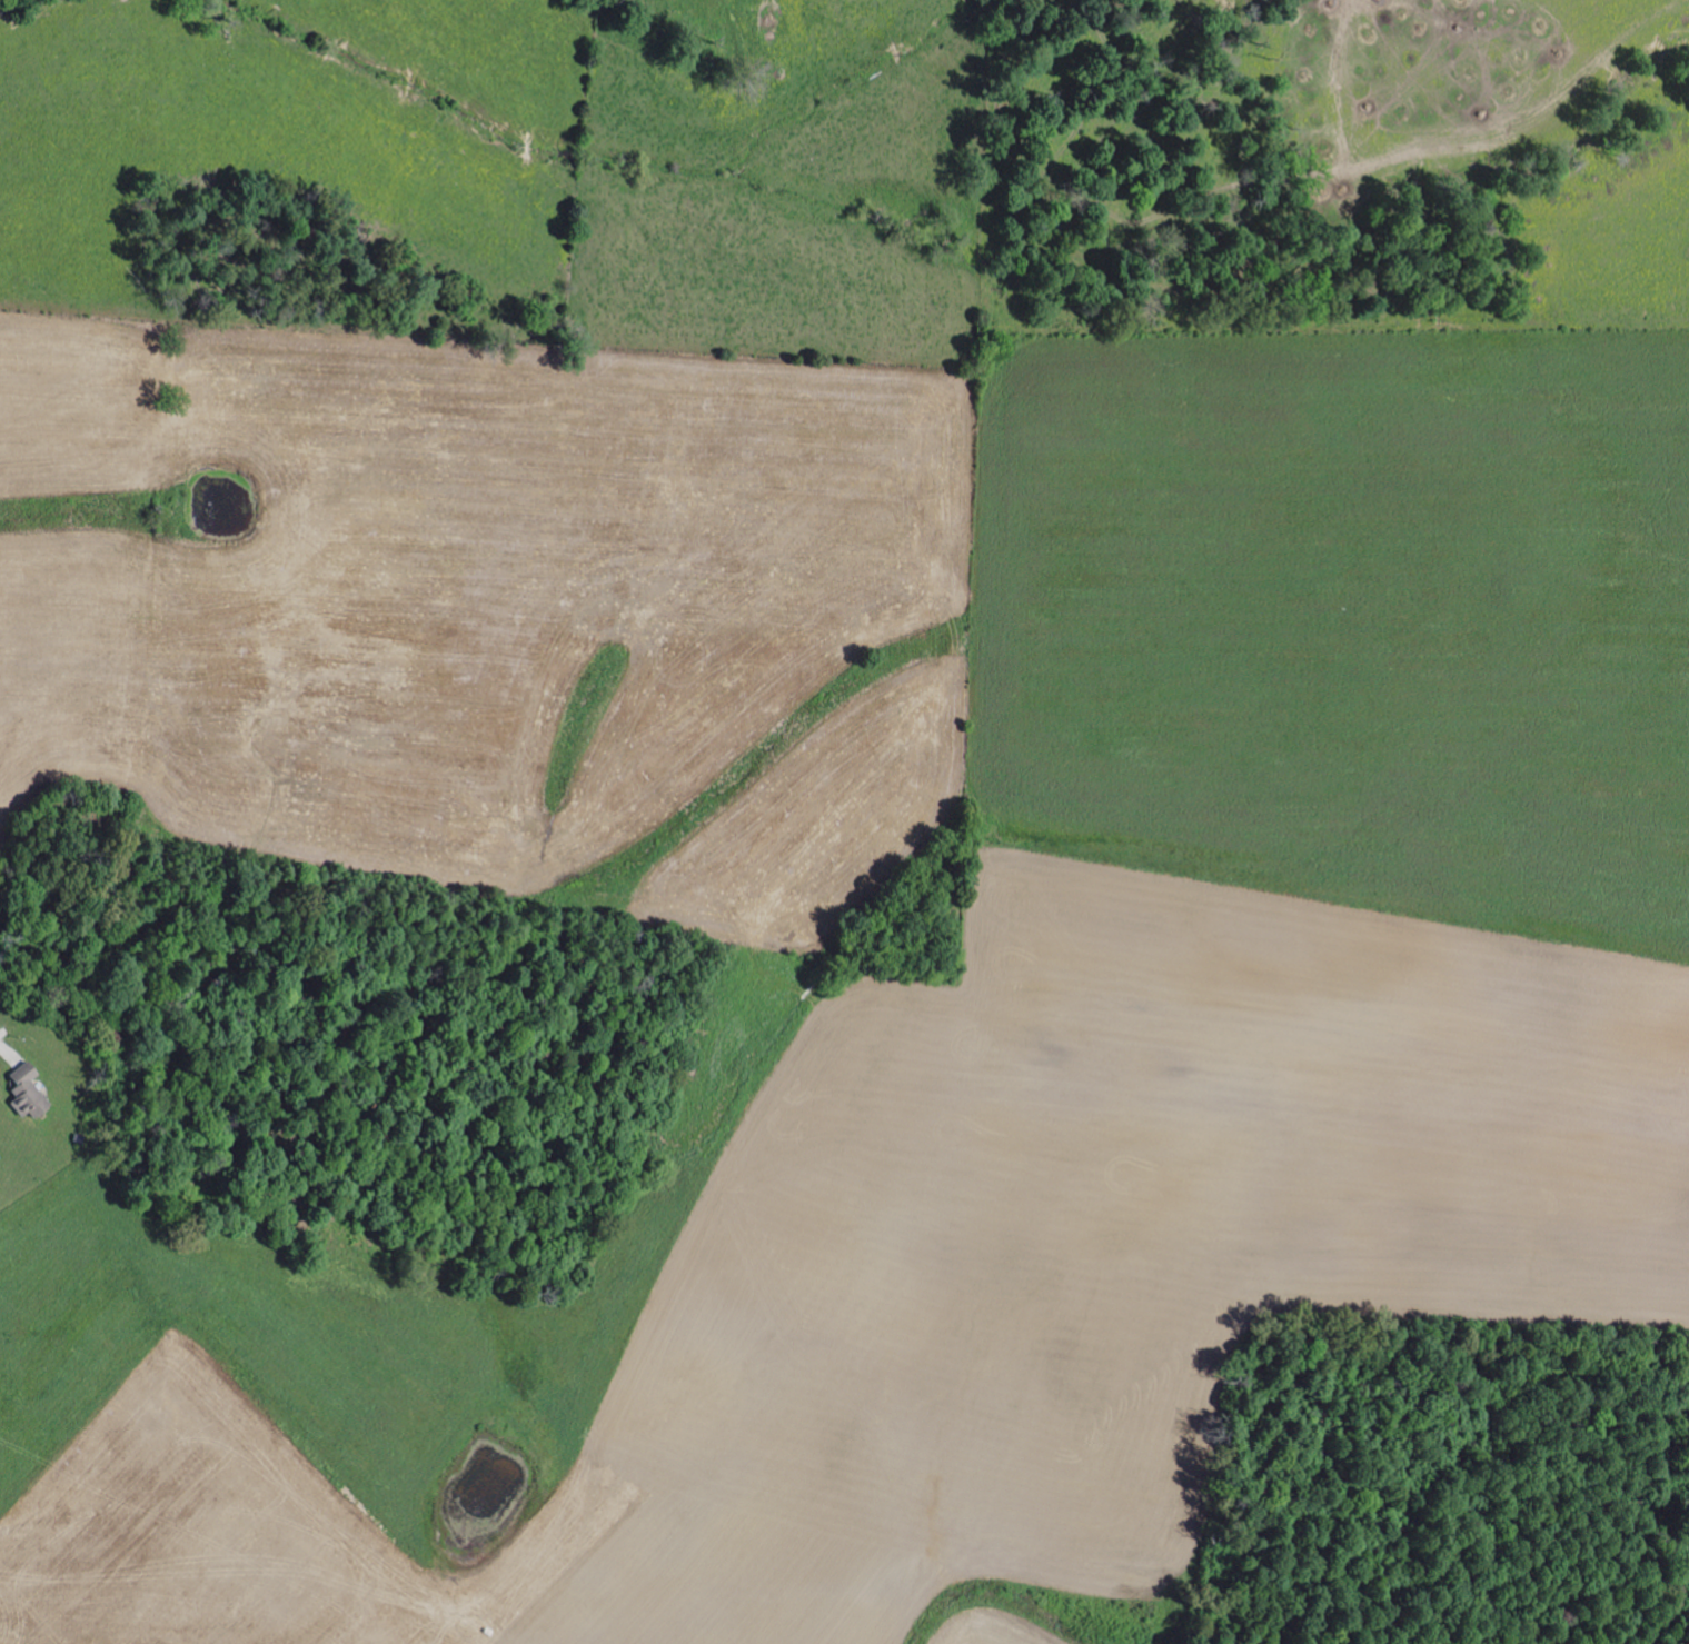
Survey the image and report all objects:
road: (1, 1044)
building: (23, 1090)

